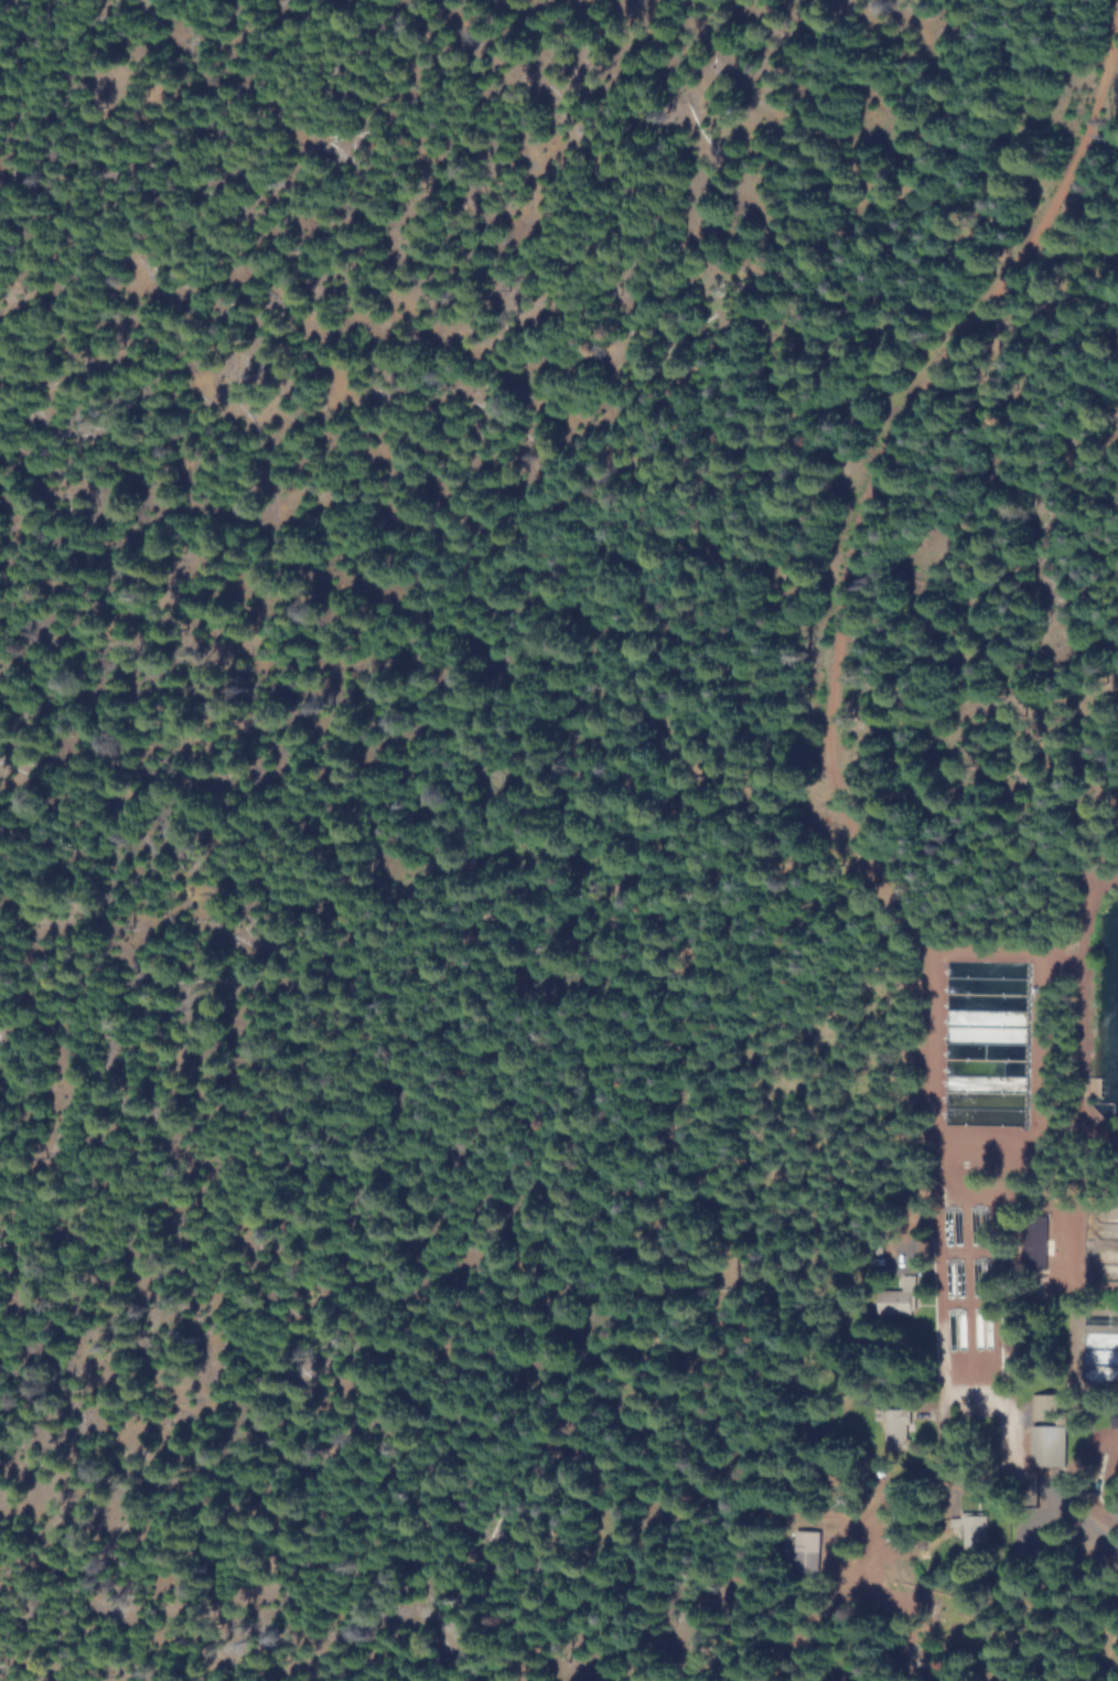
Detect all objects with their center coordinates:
road: (914, 409)
building: (1035, 1236)
aquafarm: (969, 1257)
building: (896, 1299)
parking lot: (1021, 1398)
building: (896, 1427)
building: (1047, 1444)
road: (1018, 1465)
building: (807, 1552)
road: (1115, 1669)

